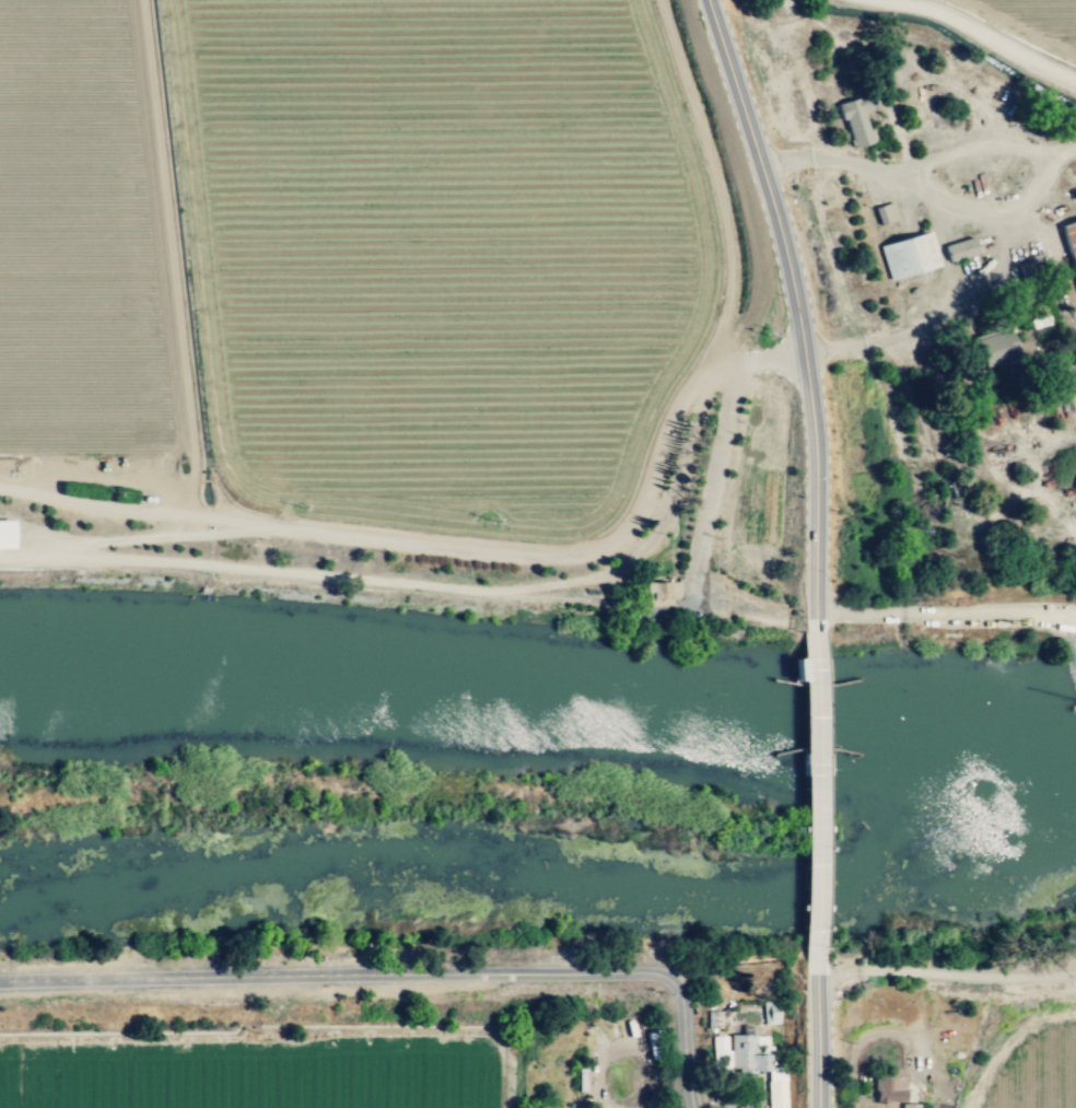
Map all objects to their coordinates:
road: (983, 37)
building: (855, 121)
road: (928, 193)
building: (884, 215)
building: (1071, 242)
building: (908, 257)
road: (793, 310)
road: (886, 337)
building: (1075, 468)
building: (128, 470)
road: (710, 479)
building: (3, 537)
road: (407, 545)
road: (464, 588)
building: (659, 595)
road: (945, 619)
river: (510, 705)
river: (1044, 779)
road: (812, 796)
river: (530, 888)
road: (944, 973)
road: (401, 976)
building: (769, 1014)
road: (814, 1036)
road: (1005, 1040)
road: (601, 1045)
building: (653, 1045)
crop: (279, 1046)
road: (855, 1051)
building: (747, 1053)
crop: (1063, 1077)
building: (885, 1089)
building: (775, 1094)
building: (909, 1106)

